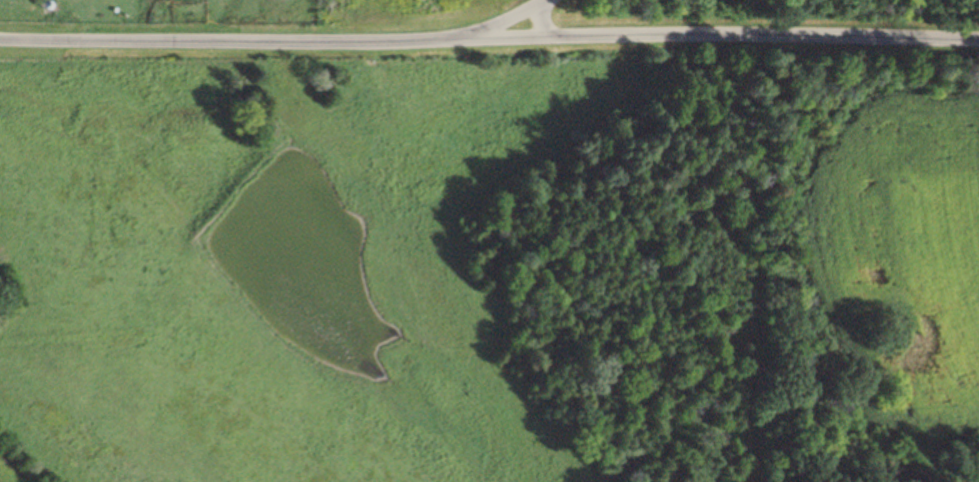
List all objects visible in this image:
road: (532, 3)
road: (514, 13)
road: (489, 34)

